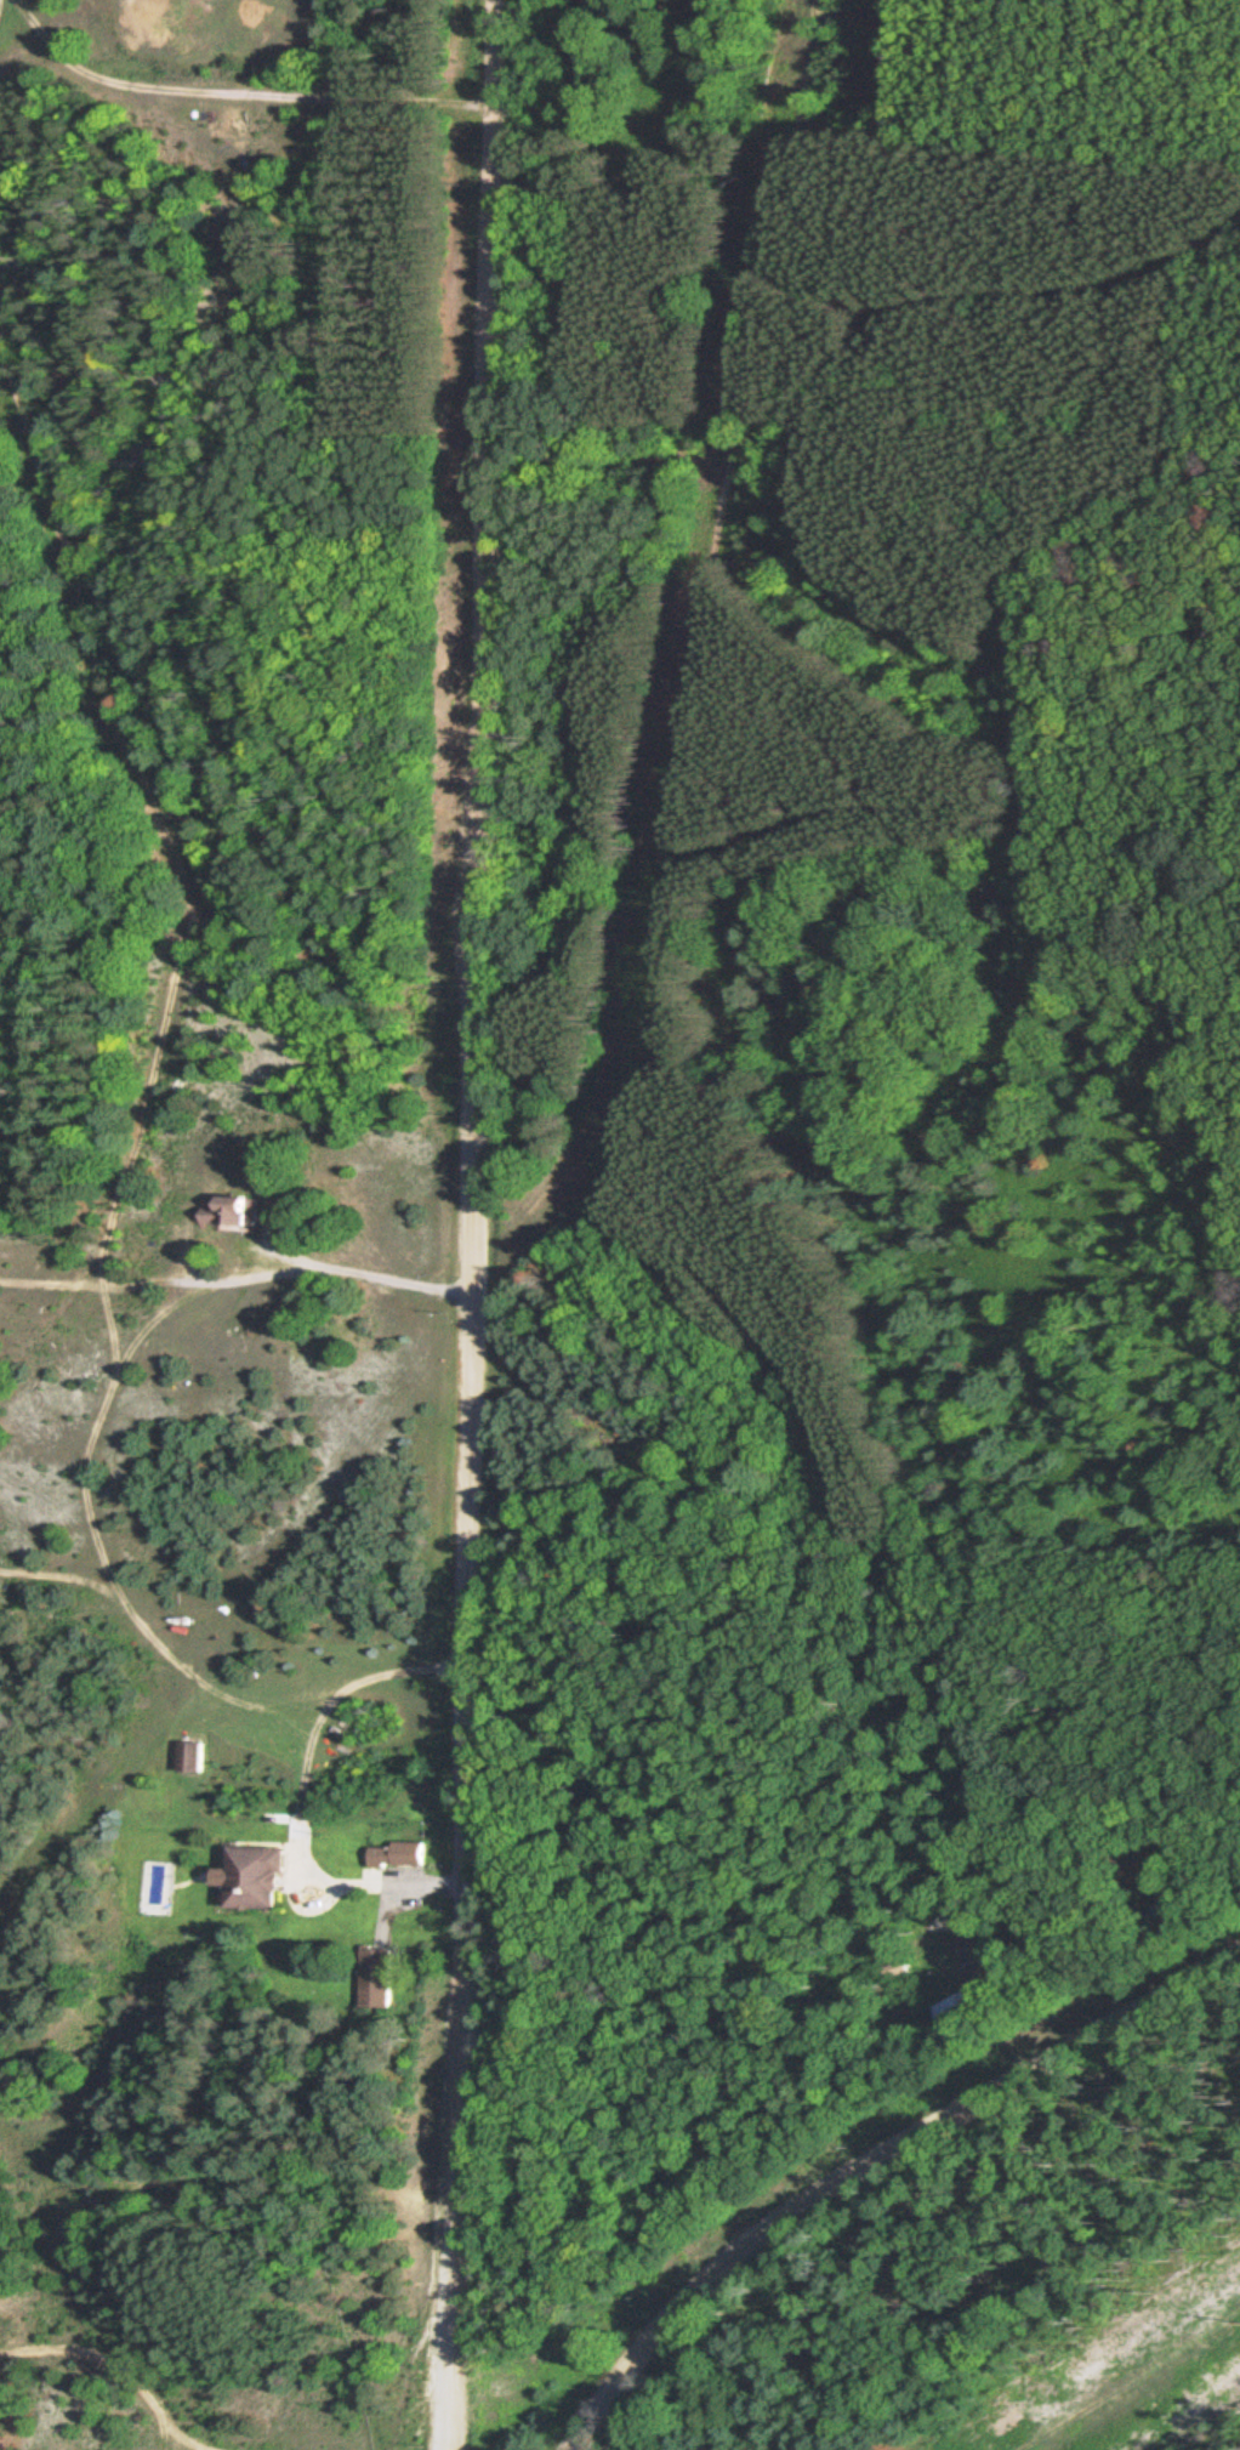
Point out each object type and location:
road: (235, 92)
building: (235, 1211)
road: (470, 1224)
building: (190, 1756)
building: (1179, 1841)
building: (398, 1854)
building: (254, 1877)
building: (1178, 1911)
building: (980, 1955)
building: (380, 1977)
building: (957, 2014)
road: (869, 2159)

